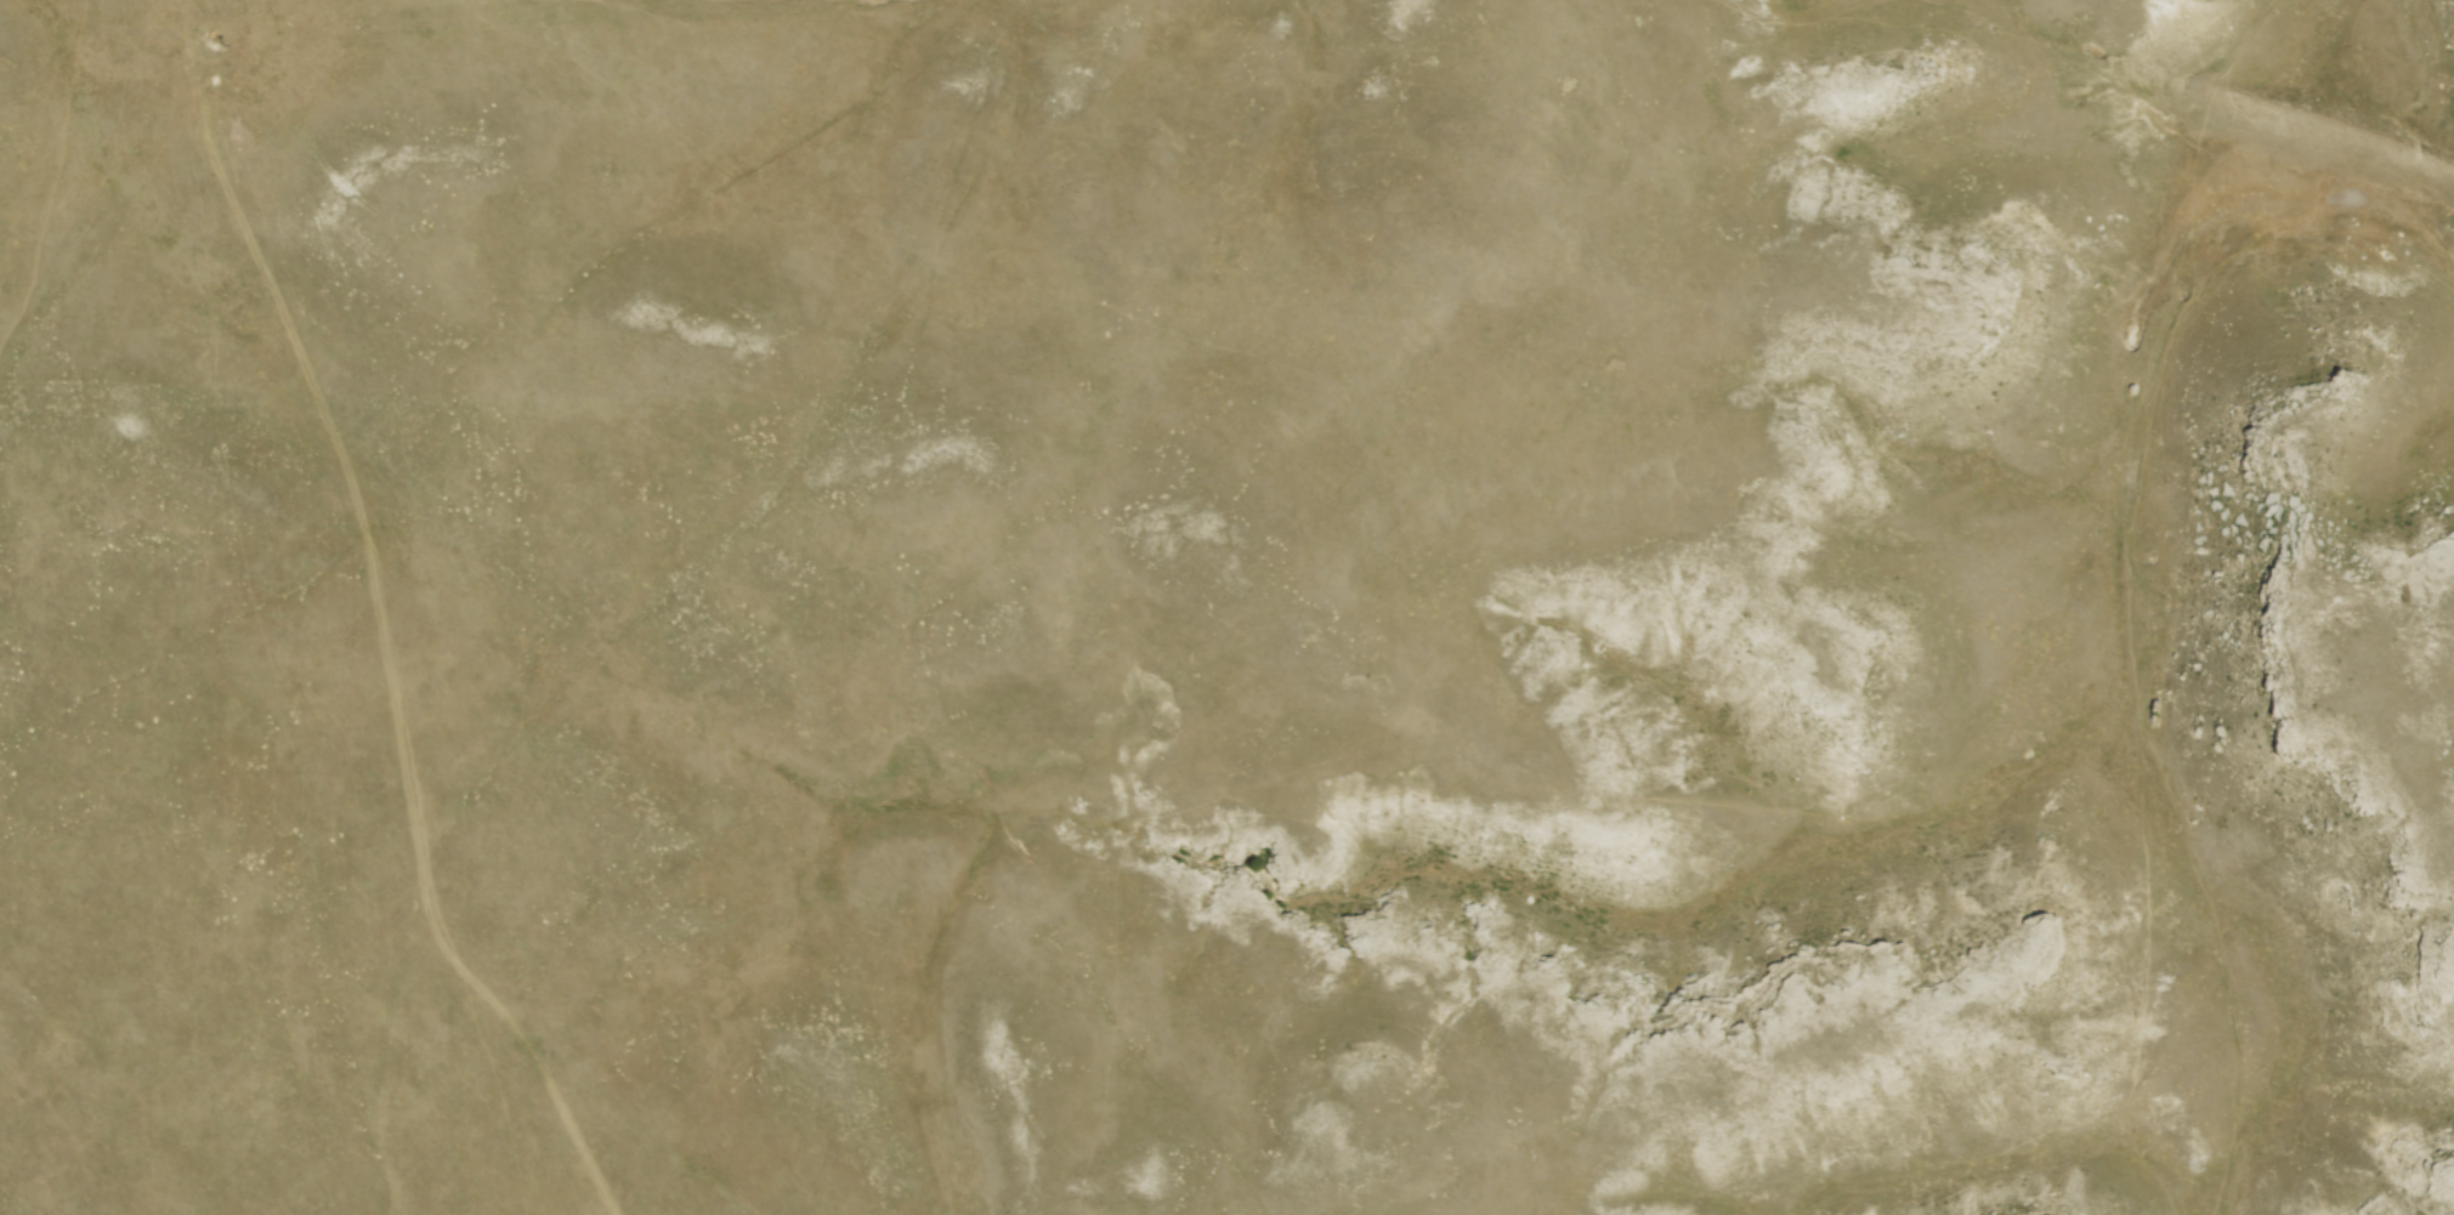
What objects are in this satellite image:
dam: (2312, 134)

